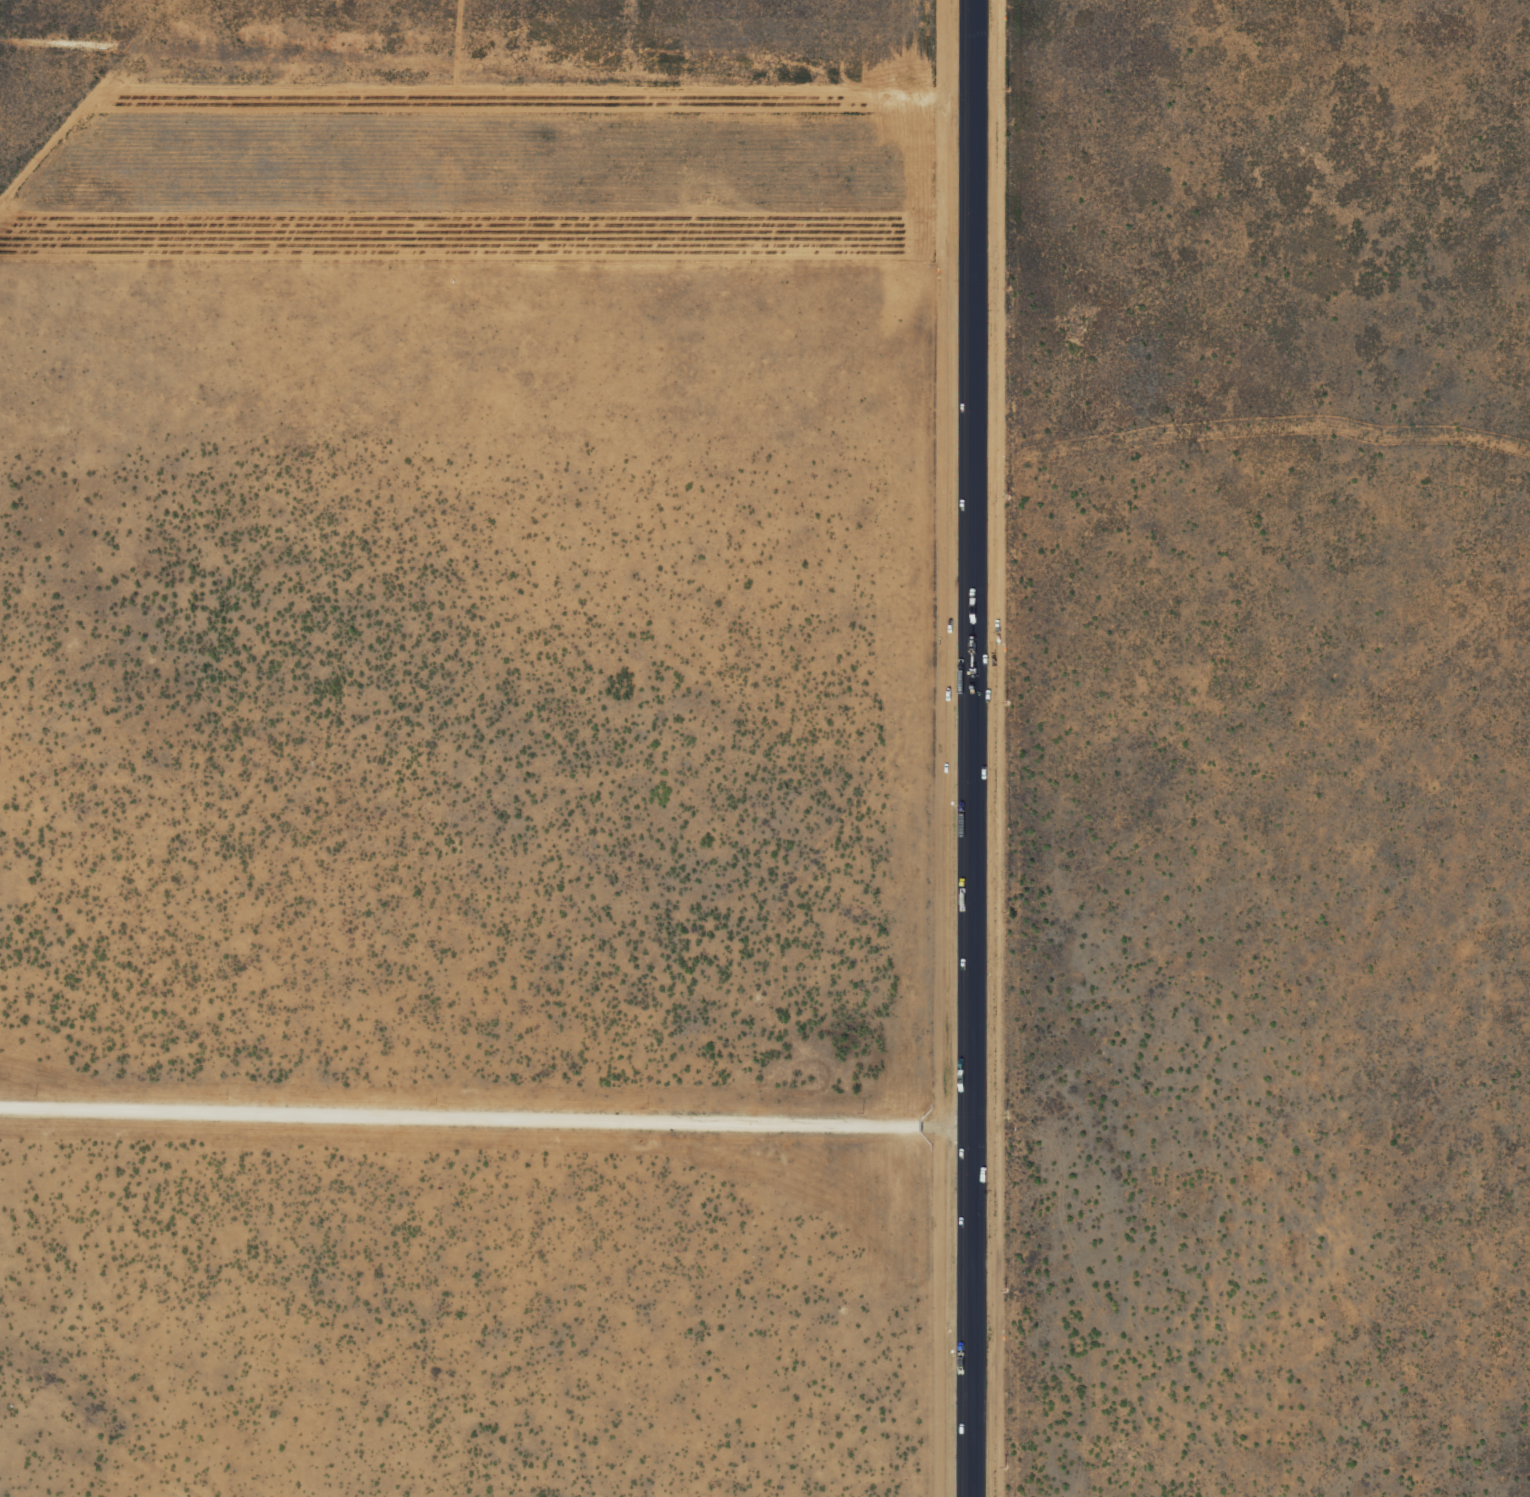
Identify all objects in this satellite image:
airport: (52, 62)
road: (963, 748)
road: (481, 1098)

